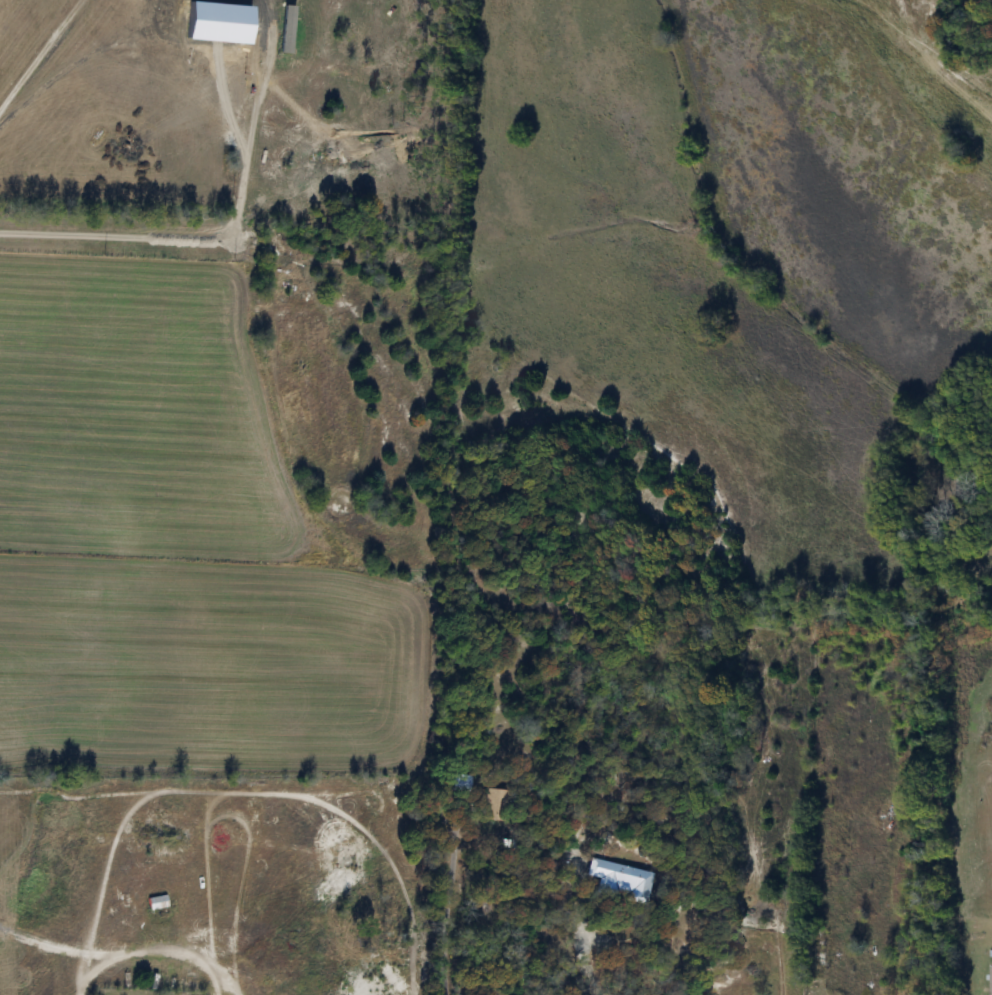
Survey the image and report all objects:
road: (207, 242)
building: (495, 806)
building: (619, 879)
building: (157, 903)
road: (452, 914)
road: (587, 968)
building: (991, 980)

